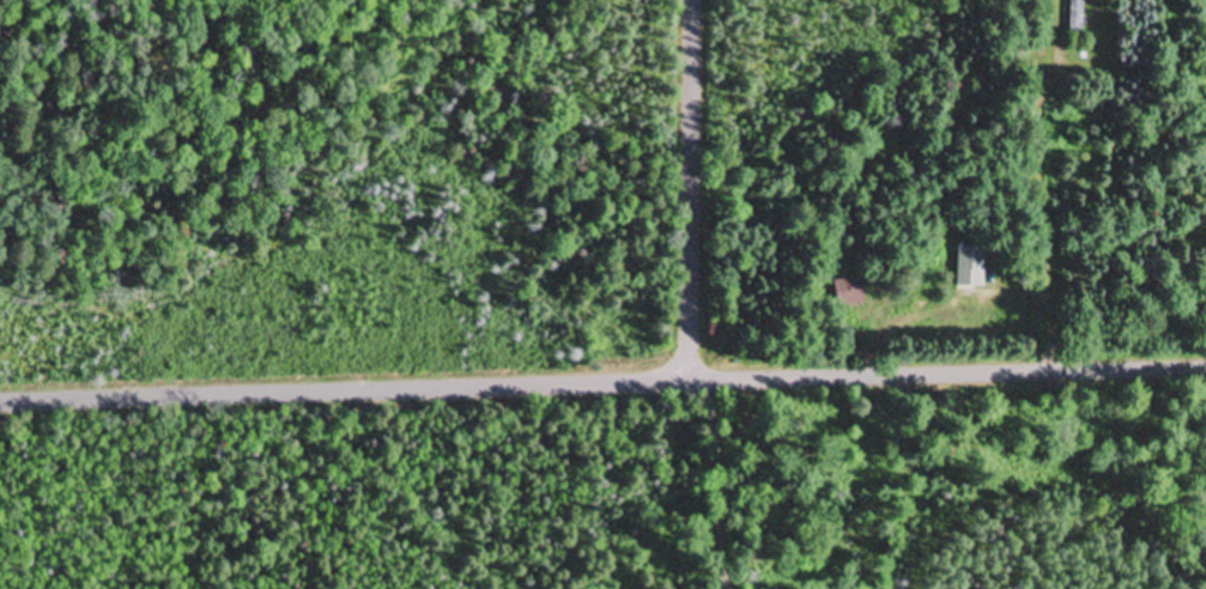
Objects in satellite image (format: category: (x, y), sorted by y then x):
building: (1075, 16)
road: (691, 190)
building: (970, 267)
building: (849, 292)
road: (602, 383)

